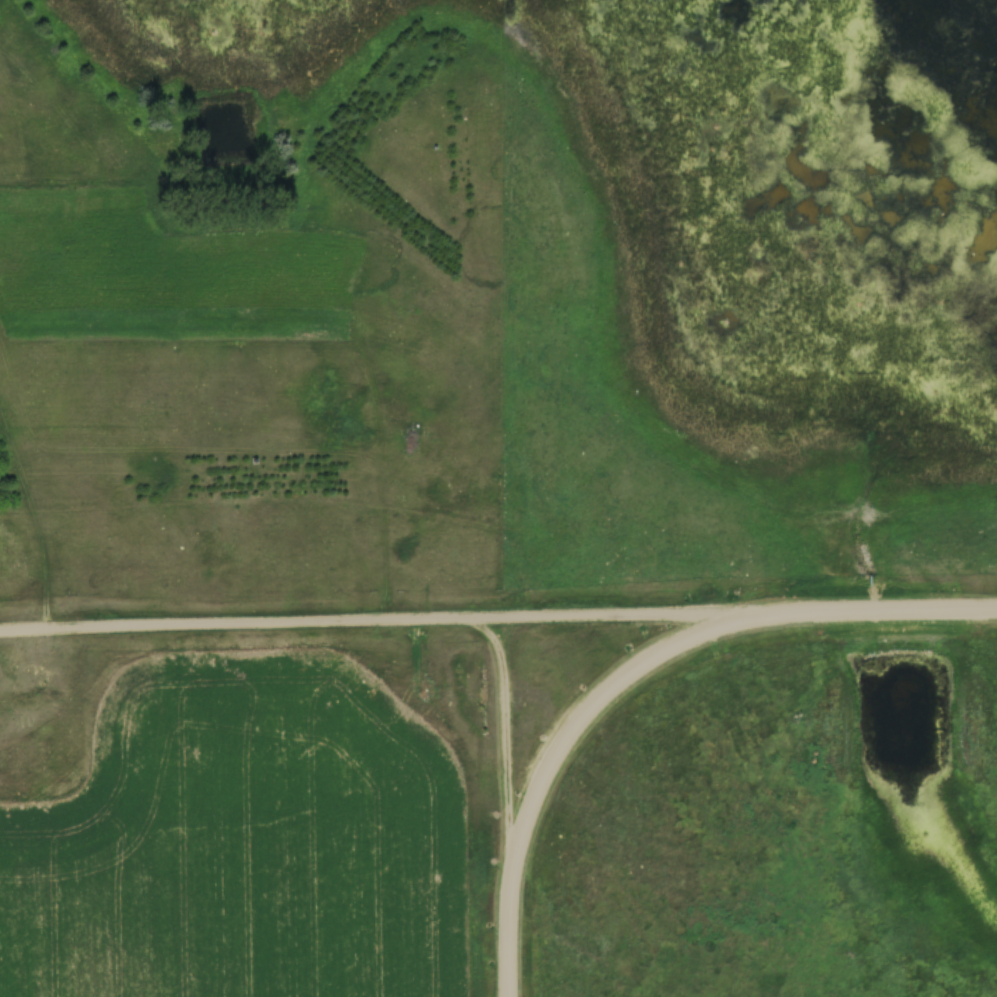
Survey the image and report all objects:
road: (881, 612)
road: (382, 621)
road: (604, 692)
road: (511, 726)
road: (509, 922)

